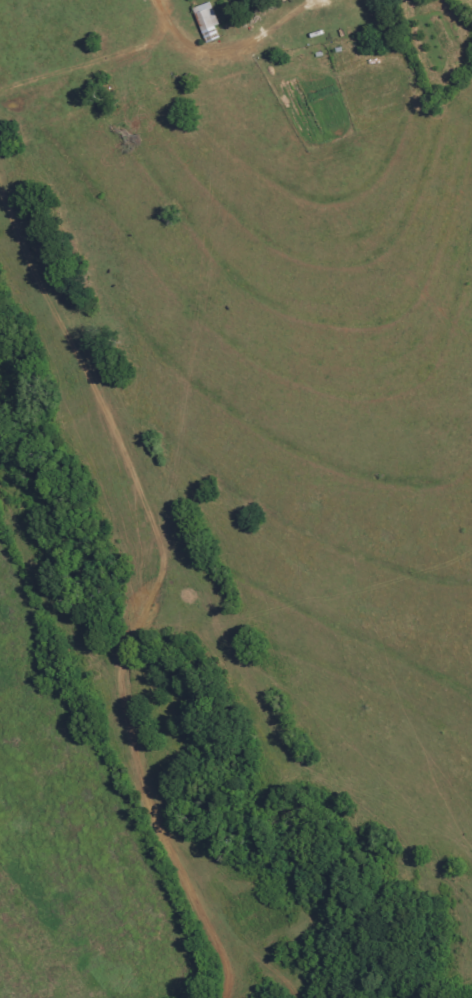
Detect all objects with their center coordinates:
building: (207, 16)

